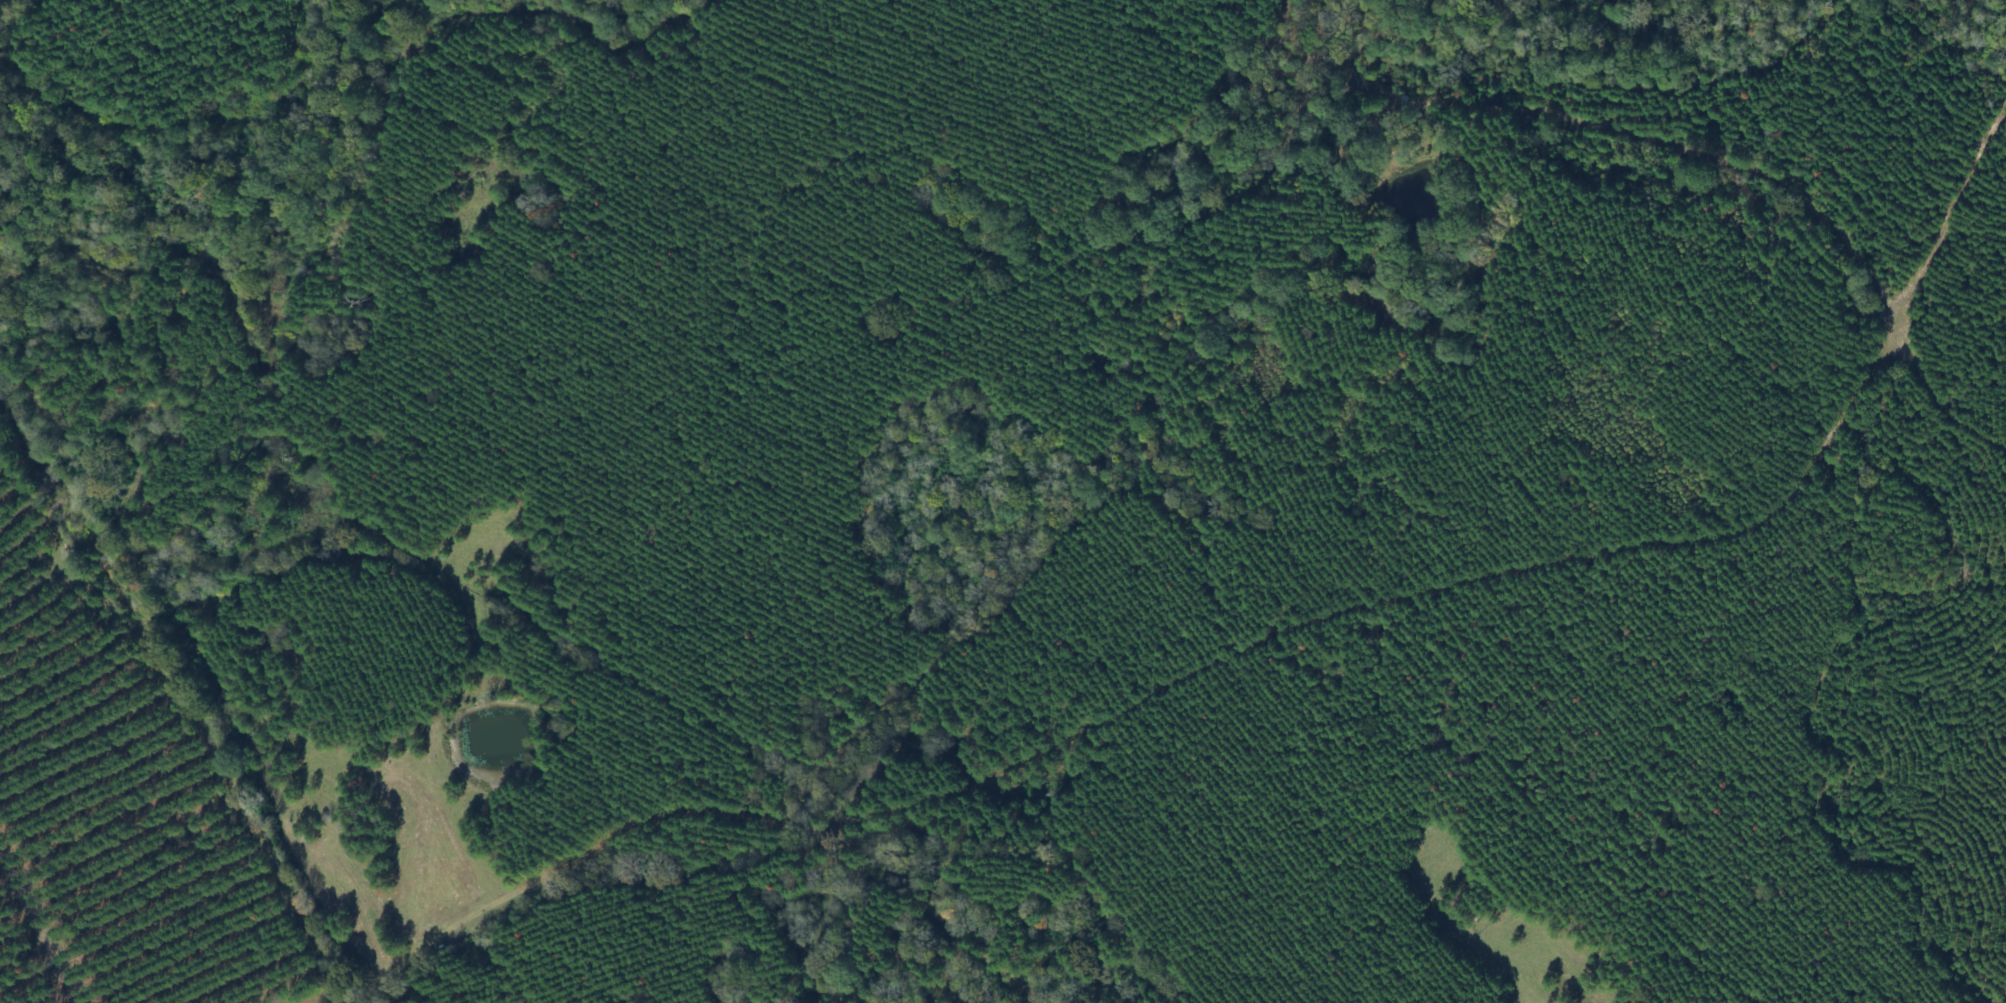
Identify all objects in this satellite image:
road: (458, 930)

